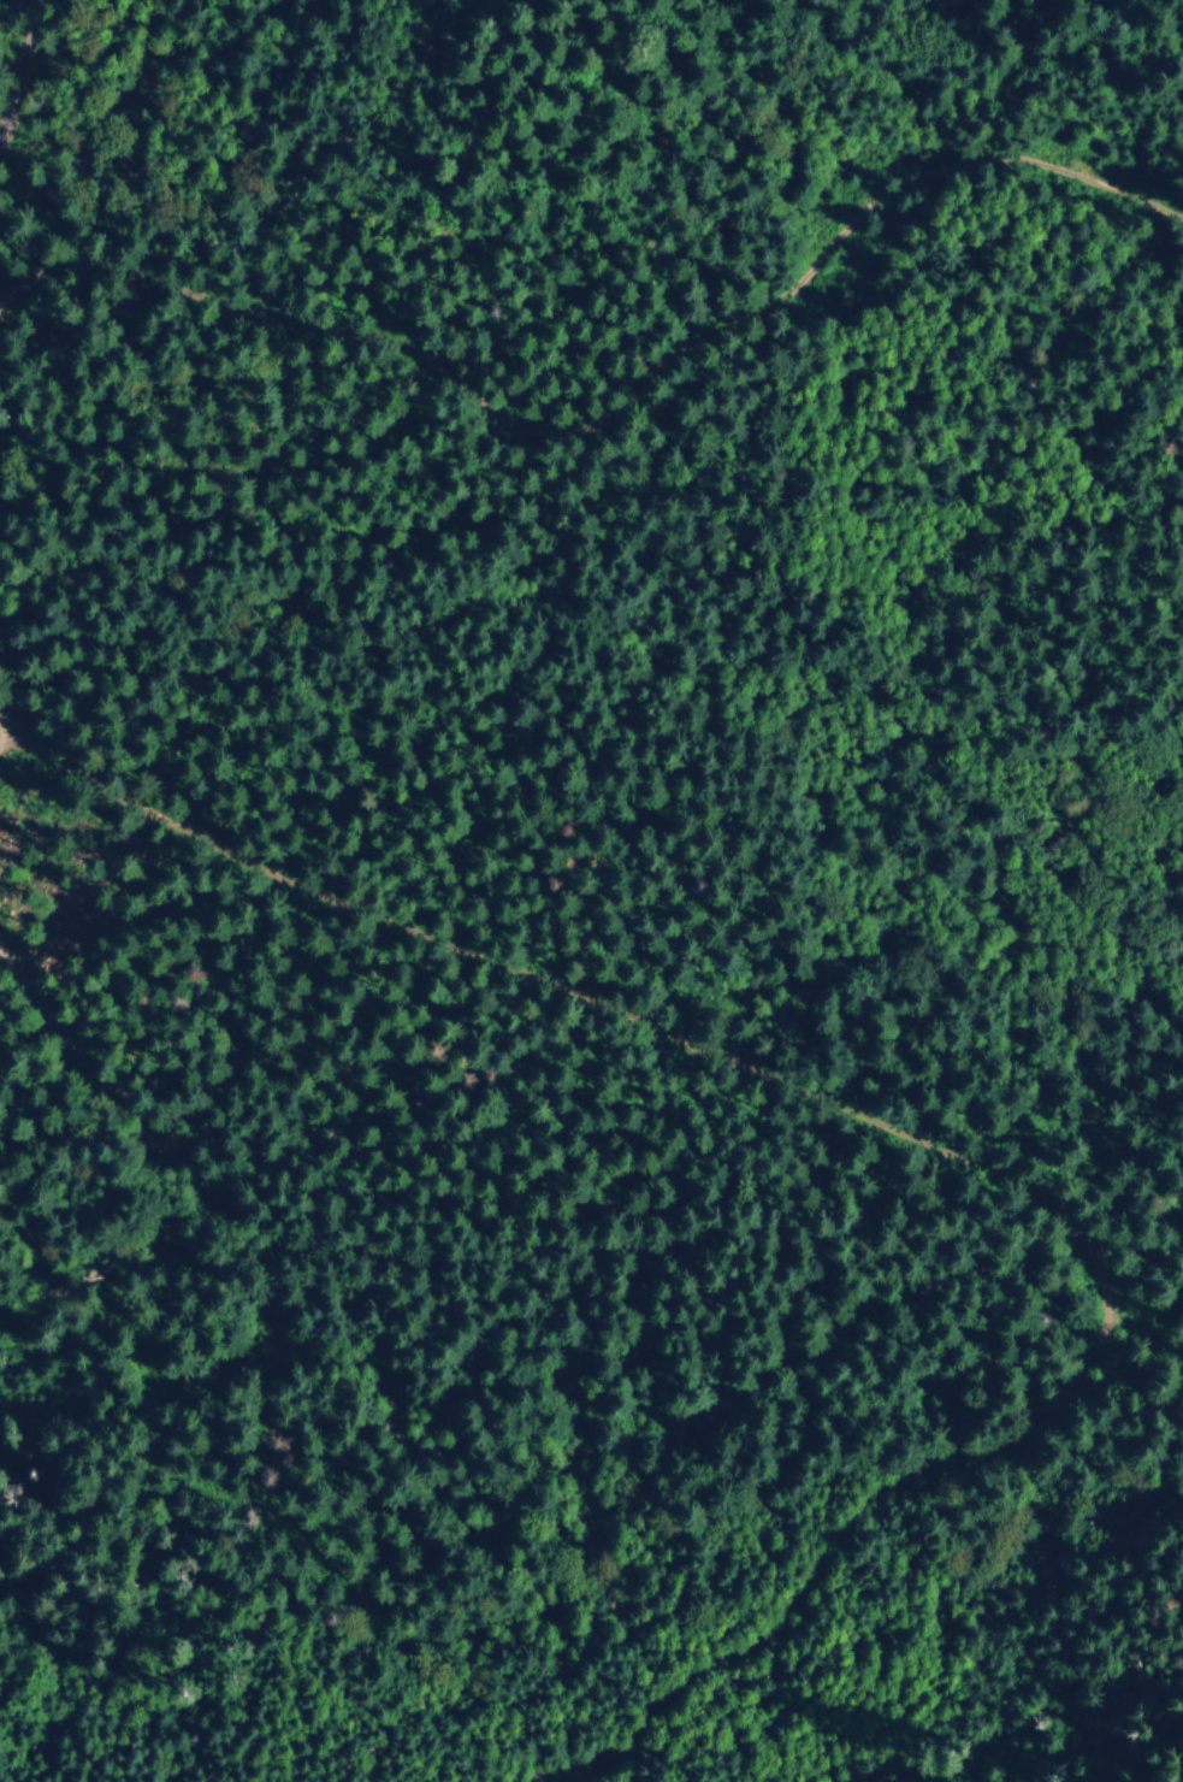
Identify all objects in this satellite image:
road: (5, 350)
road: (634, 452)
road: (30, 728)
road: (426, 983)
road: (144, 1182)

